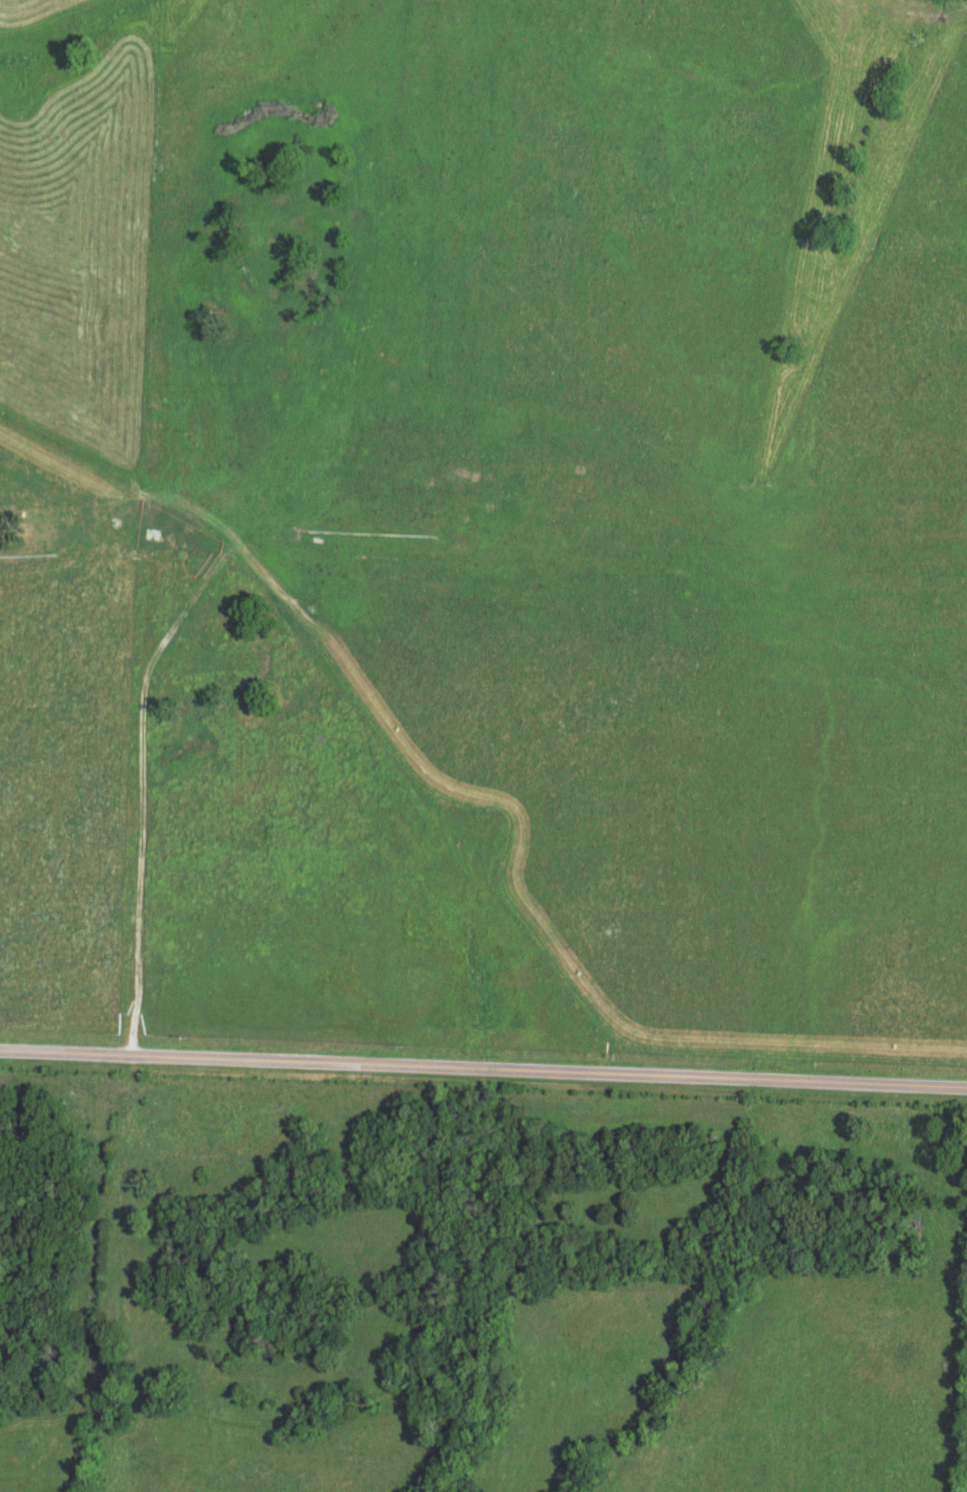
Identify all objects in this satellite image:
building: (238, 593)
road: (483, 1065)

